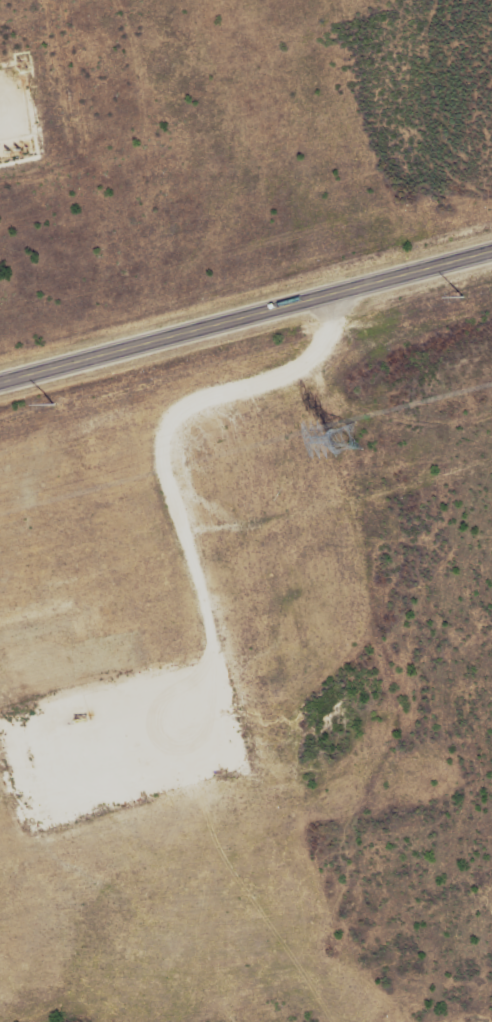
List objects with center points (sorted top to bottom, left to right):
power tower: (470, 292)
road: (246, 321)
power tower: (79, 396)
power tower: (342, 440)

